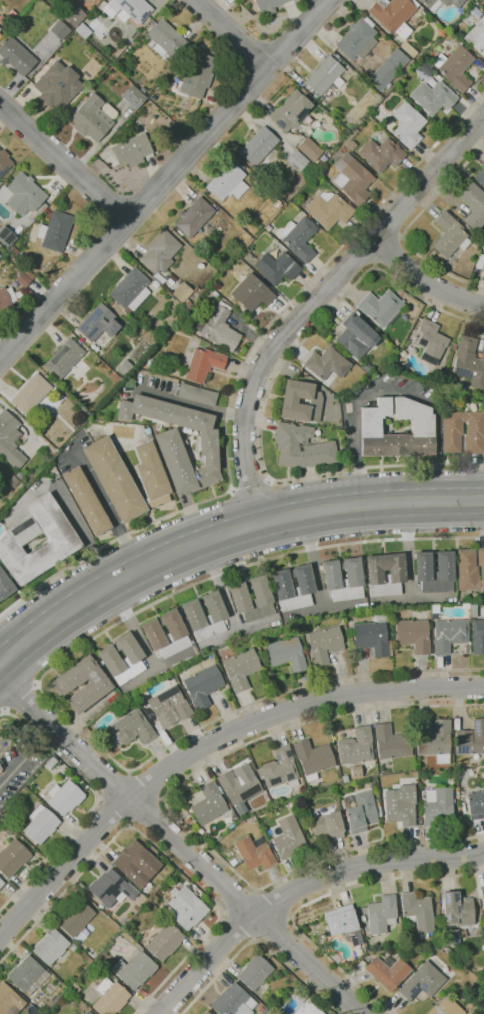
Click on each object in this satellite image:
road: (366, 3)
building: (439, 3)
building: (268, 5)
building: (131, 8)
building: (108, 11)
building: (422, 12)
building: (73, 15)
building: (392, 15)
building: (2, 20)
building: (447, 26)
building: (59, 30)
building: (82, 31)
building: (439, 32)
road: (230, 34)
building: (0, 36)
building: (476, 36)
building: (357, 39)
building: (166, 40)
building: (407, 49)
building: (16, 56)
building: (423, 57)
building: (116, 64)
building: (429, 64)
building: (454, 67)
building: (388, 70)
building: (197, 75)
building: (325, 76)
building: (57, 85)
building: (133, 96)
building: (432, 97)
building: (290, 111)
building: (93, 118)
building: (407, 125)
building: (346, 140)
building: (258, 146)
building: (309, 149)
building: (342, 150)
building: (131, 151)
building: (380, 154)
building: (322, 159)
building: (296, 161)
building: (4, 162)
road: (63, 162)
building: (317, 164)
building: (479, 177)
road: (164, 180)
building: (352, 180)
building: (226, 182)
building: (21, 194)
building: (276, 204)
building: (473, 205)
building: (328, 209)
building: (193, 217)
road: (390, 223)
road: (409, 224)
building: (257, 225)
building: (55, 231)
building: (449, 235)
building: (6, 236)
building: (298, 238)
building: (476, 244)
building: (13, 251)
building: (160, 251)
road: (361, 253)
building: (0, 254)
building: (207, 257)
road: (398, 260)
building: (480, 262)
building: (275, 268)
road: (425, 278)
building: (22, 279)
building: (130, 291)
building: (181, 293)
building: (251, 293)
building: (6, 298)
building: (186, 303)
road: (311, 305)
building: (380, 307)
building: (97, 323)
building: (217, 328)
building: (356, 337)
building: (429, 342)
building: (64, 358)
building: (393, 362)
building: (468, 362)
building: (149, 363)
building: (203, 364)
building: (325, 365)
building: (124, 367)
building: (365, 367)
road: (237, 377)
road: (392, 391)
building: (30, 393)
building: (196, 395)
road: (266, 399)
building: (288, 402)
road: (191, 403)
building: (81, 413)
building: (421, 427)
building: (451, 428)
building: (9, 441)
building: (178, 441)
building: (301, 447)
building: (128, 478)
road: (251, 487)
building: (86, 501)
road: (102, 502)
road: (226, 523)
building: (63, 539)
road: (221, 549)
building: (470, 569)
building: (434, 572)
building: (384, 574)
building: (342, 579)
building: (5, 585)
building: (303, 590)
building: (251, 598)
building: (464, 606)
building: (435, 609)
building: (472, 611)
building: (204, 616)
building: (176, 633)
building: (448, 634)
building: (413, 635)
building: (371, 637)
building: (477, 637)
building: (324, 644)
building: (286, 654)
building: (110, 658)
building: (240, 669)
building: (82, 684)
building: (202, 686)
road: (19, 693)
road: (43, 693)
building: (170, 706)
building: (133, 728)
road: (44, 738)
building: (470, 738)
building: (434, 741)
building: (390, 742)
road: (208, 744)
building: (356, 746)
building: (312, 758)
building: (52, 762)
road: (17, 768)
building: (278, 768)
road: (113, 785)
building: (240, 785)
building: (65, 797)
road: (94, 804)
building: (211, 804)
building: (401, 804)
building: (475, 804)
building: (438, 807)
road: (169, 810)
road: (114, 811)
road: (146, 812)
building: (361, 812)
building: (42, 824)
building: (327, 824)
building: (288, 836)
road: (183, 844)
road: (158, 850)
building: (255, 852)
building: (13, 857)
building: (234, 862)
building: (136, 863)
building: (1, 883)
building: (112, 888)
road: (298, 888)
building: (482, 896)
road: (315, 900)
building: (187, 907)
building: (457, 910)
building: (418, 911)
building: (382, 914)
building: (76, 917)
building: (363, 918)
building: (345, 924)
road: (237, 926)
road: (278, 932)
building: (165, 941)
road: (258, 943)
building: (51, 946)
building: (74, 947)
building: (136, 969)
building: (389, 971)
building: (26, 972)
building: (255, 972)
building: (422, 981)
building: (110, 997)
building: (9, 999)
building: (234, 1001)
building: (444, 1006)
building: (261, 1008)
building: (309, 1009)
building: (266, 1011)
building: (88, 1012)
building: (207, 1012)

